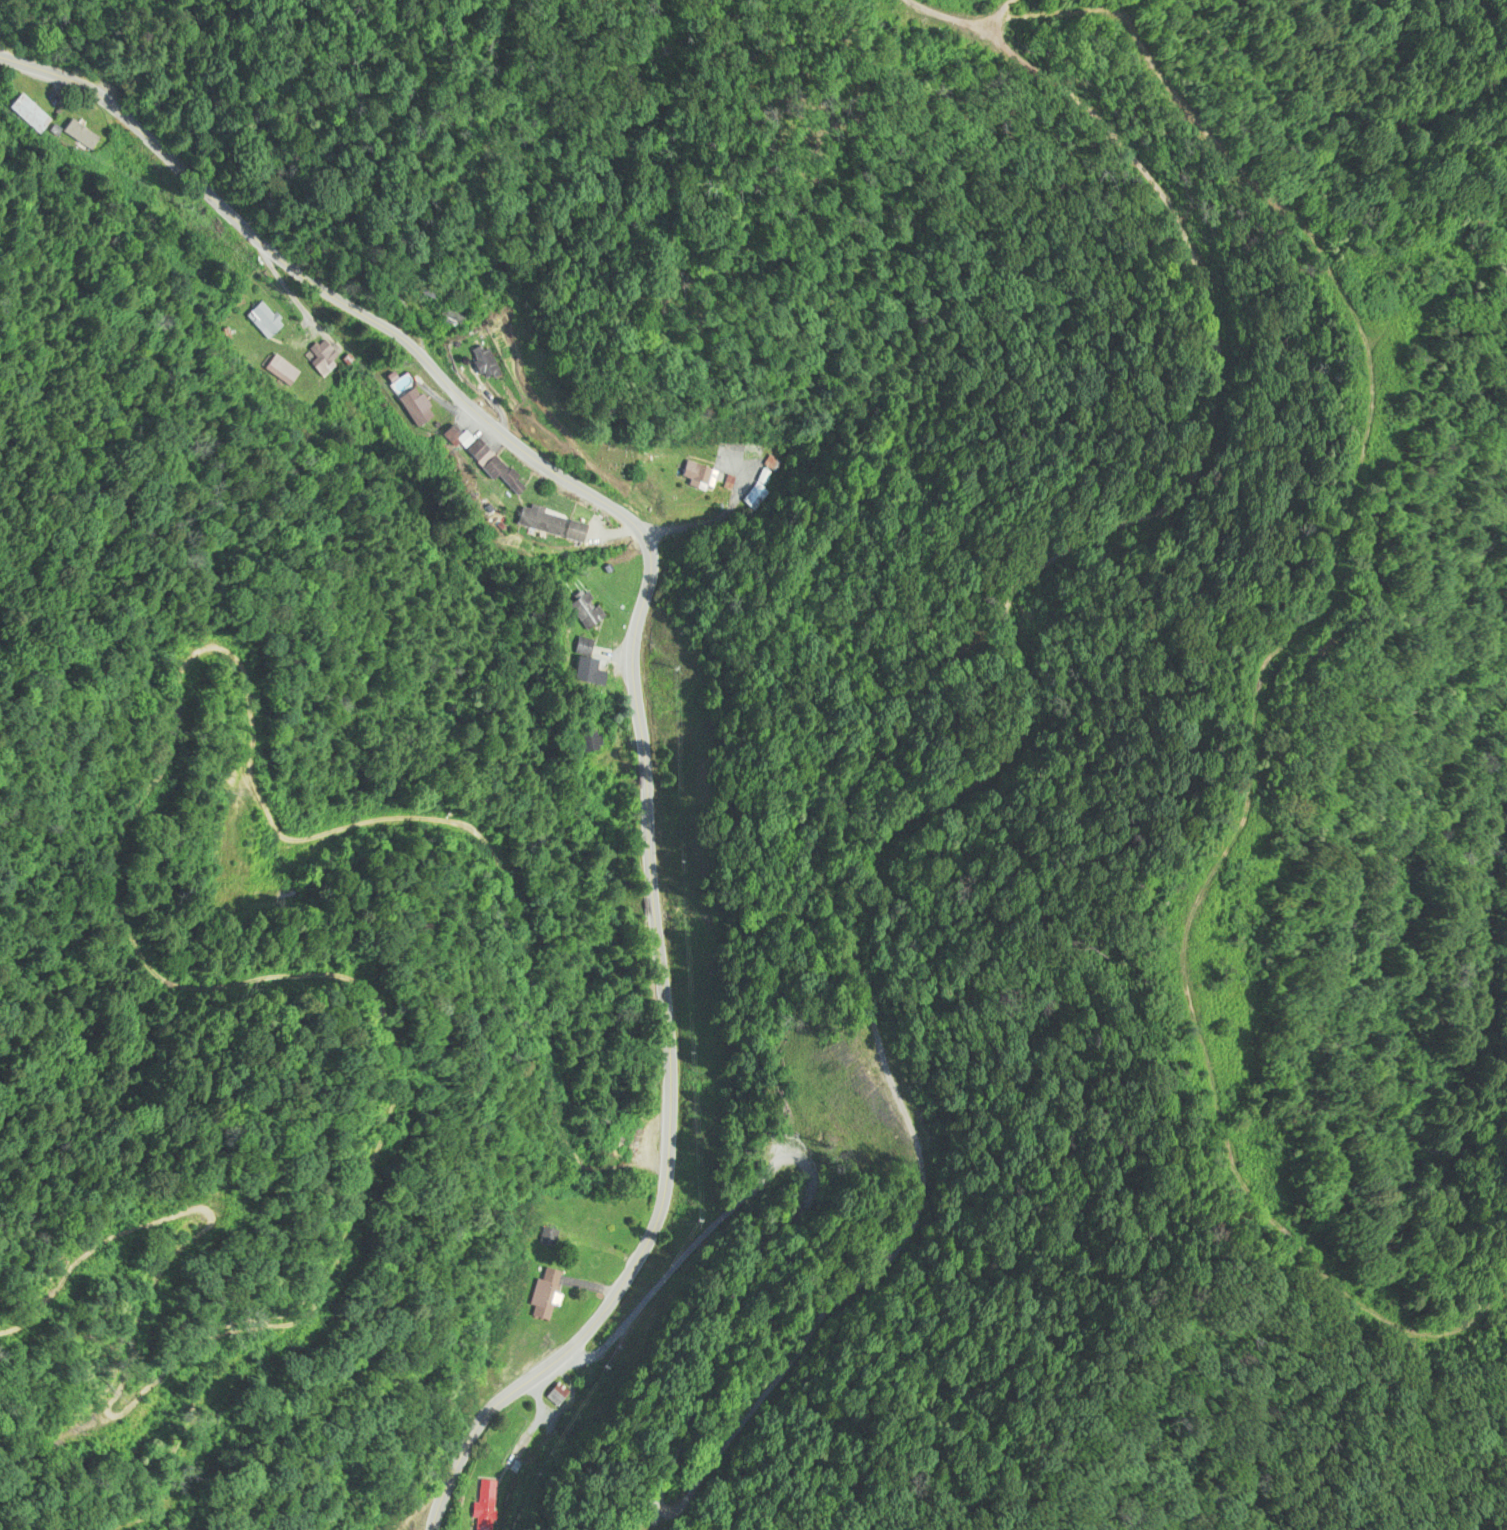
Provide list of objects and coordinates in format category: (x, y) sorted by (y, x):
building: (23, 115)
building: (78, 138)
building: (260, 321)
building: (323, 357)
building: (480, 362)
building: (277, 371)
building: (404, 402)
building: (773, 478)
building: (546, 525)
building: (580, 610)
building: (577, 648)
building: (579, 664)
road: (629, 668)
building: (587, 742)
building: (540, 1295)
building: (559, 1396)
building: (500, 1443)
building: (483, 1506)

